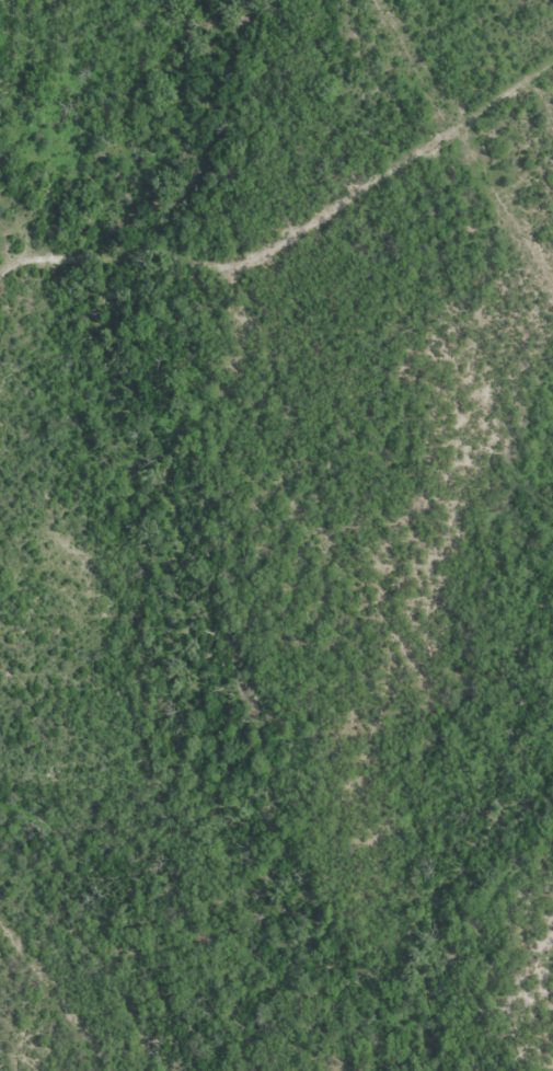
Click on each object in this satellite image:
road: (292, 258)

